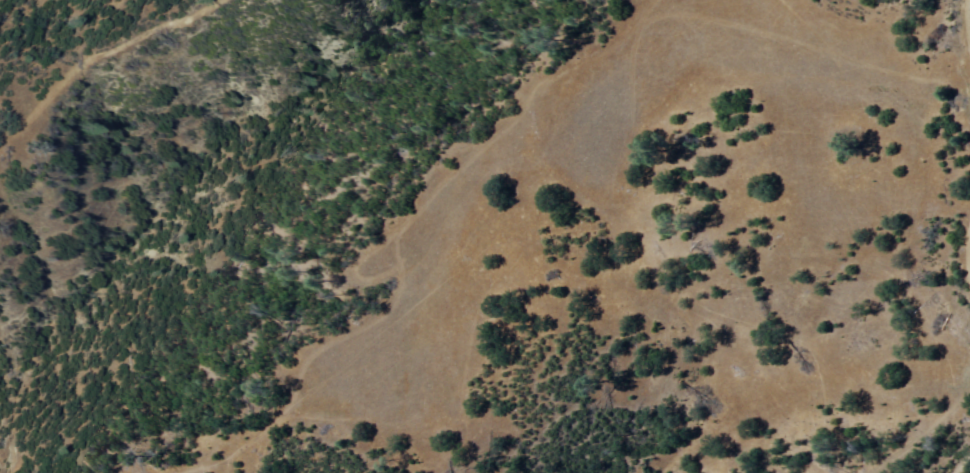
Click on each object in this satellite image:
road: (962, 32)
road: (968, 245)
road: (959, 461)

